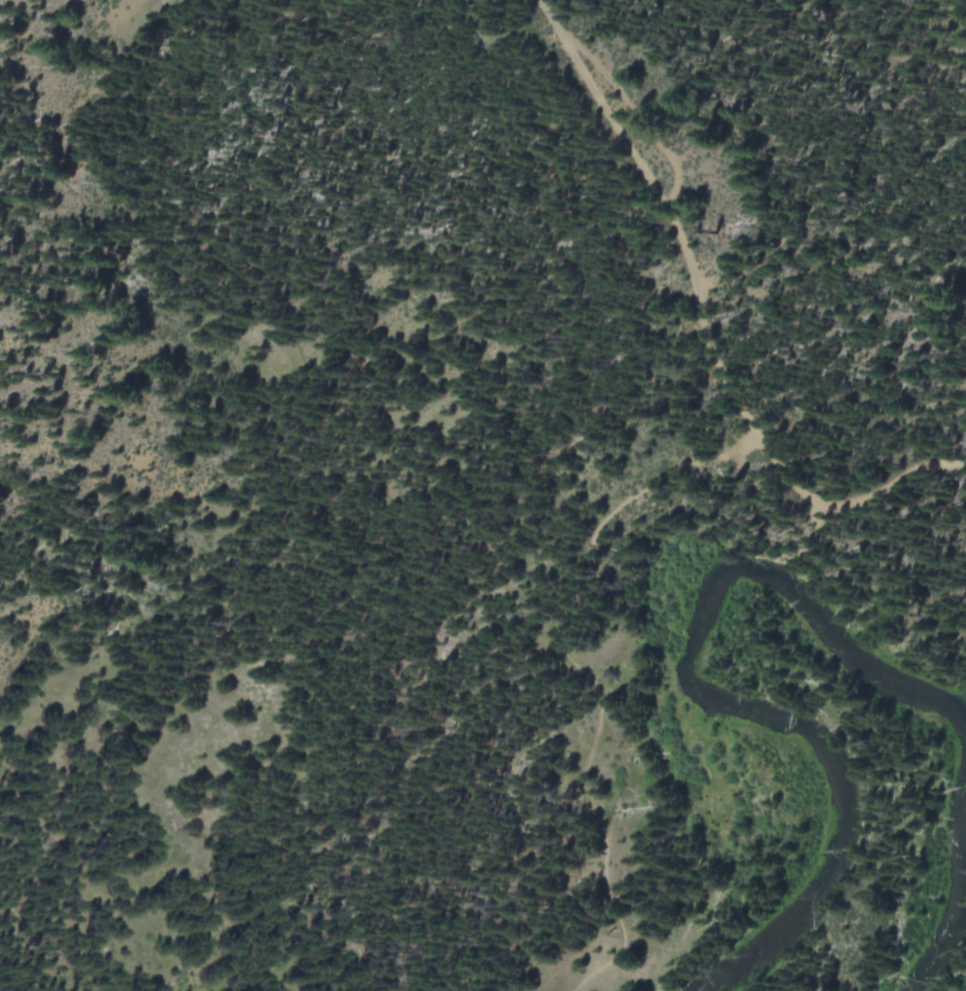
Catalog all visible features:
road: (670, 220)
parking lot: (770, 456)
road: (583, 569)
river: (729, 699)
river: (962, 893)

